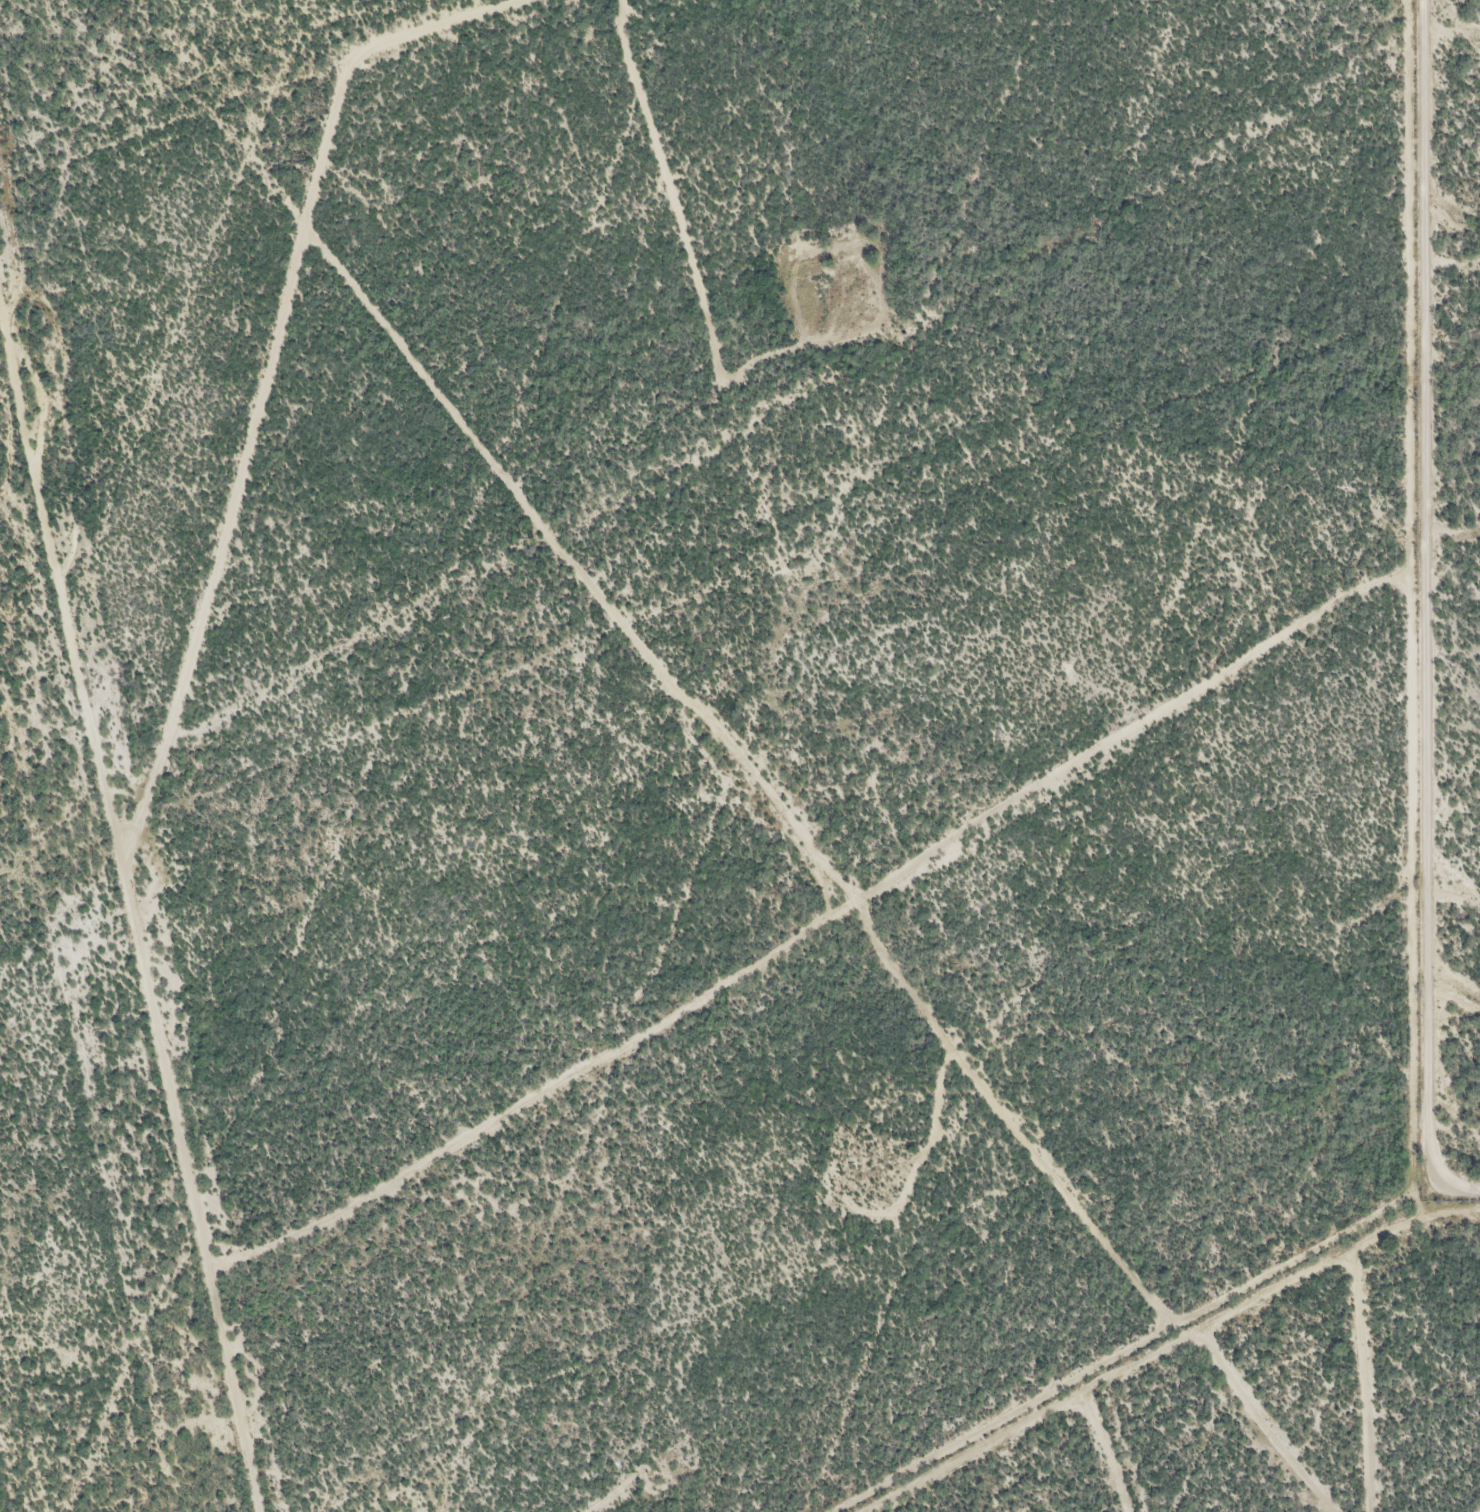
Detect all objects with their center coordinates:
road: (1420, 622)

